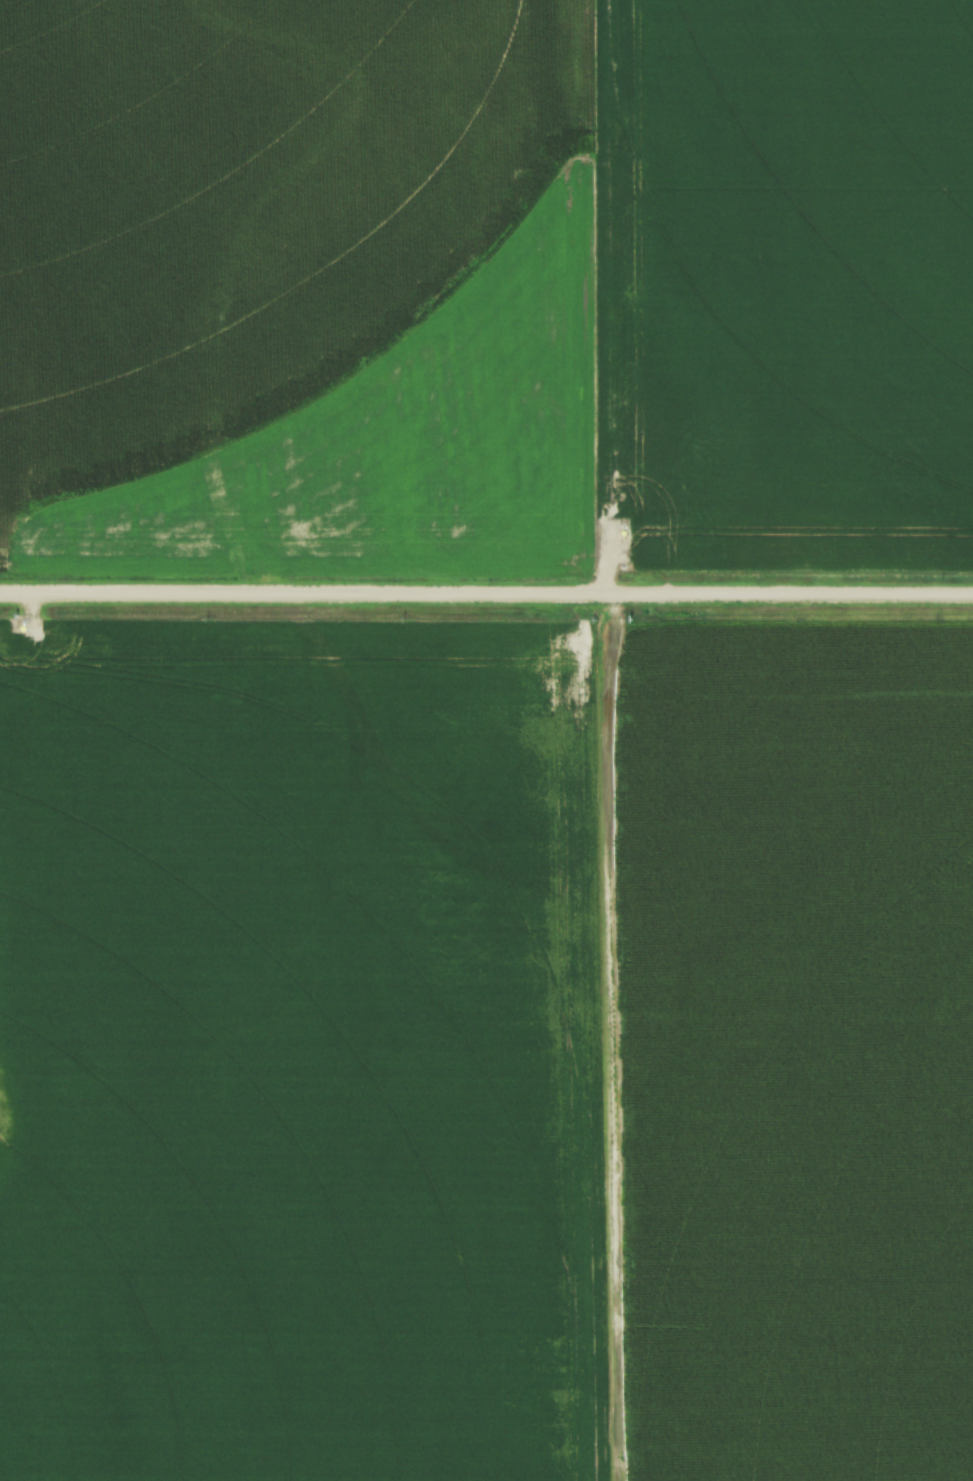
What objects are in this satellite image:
crop: (487, 280)
road: (486, 593)
crop: (486, 1049)

